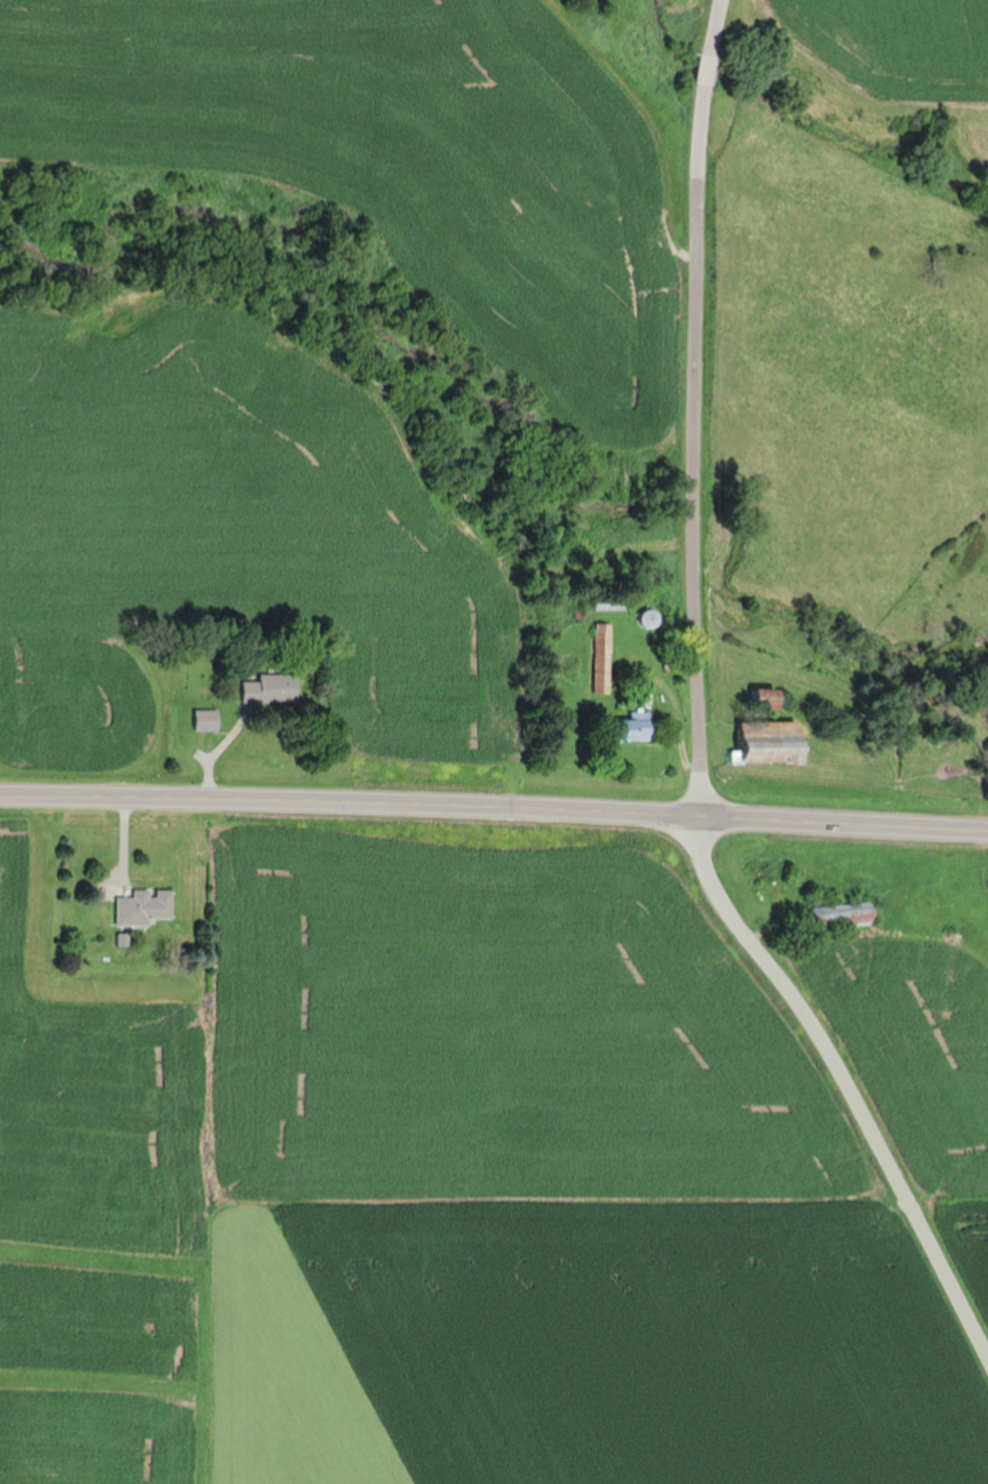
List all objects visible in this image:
road: (653, 411)
building: (645, 618)
building: (599, 657)
building: (261, 687)
building: (765, 702)
building: (204, 719)
building: (627, 727)
building: (767, 742)
road: (494, 804)
building: (142, 906)
building: (840, 915)
road: (838, 1085)

